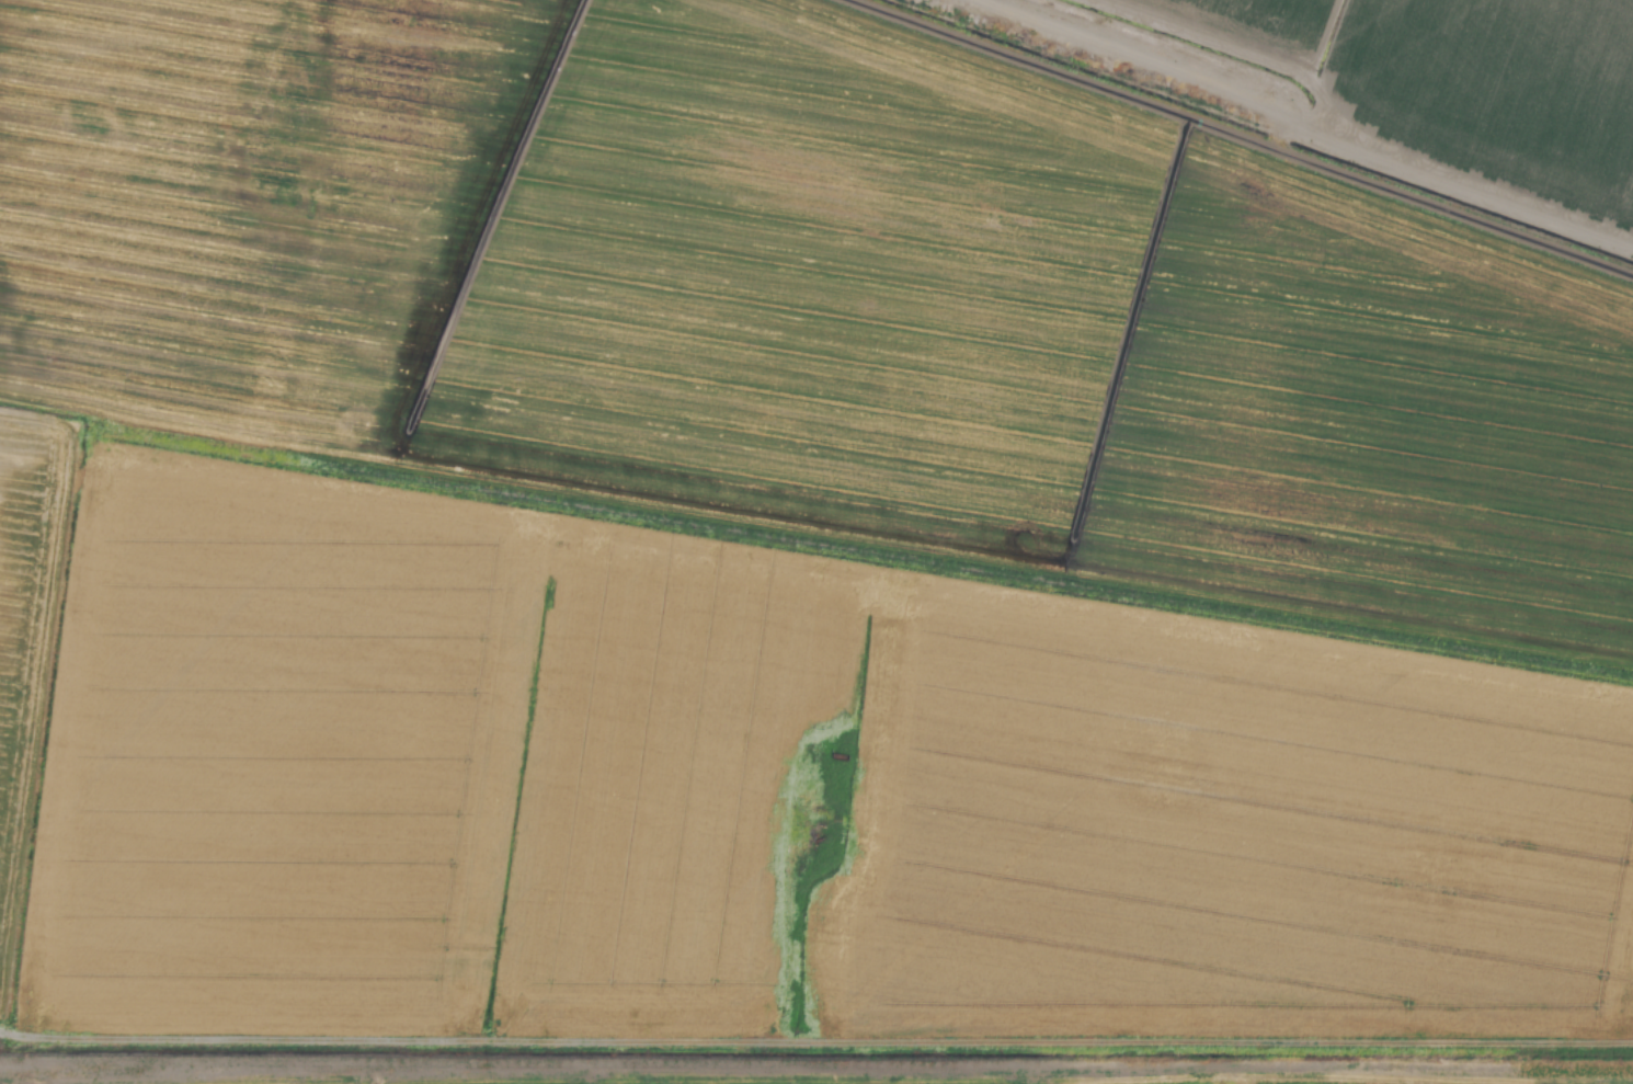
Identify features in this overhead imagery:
crop: (816, 541)
road: (815, 1046)

